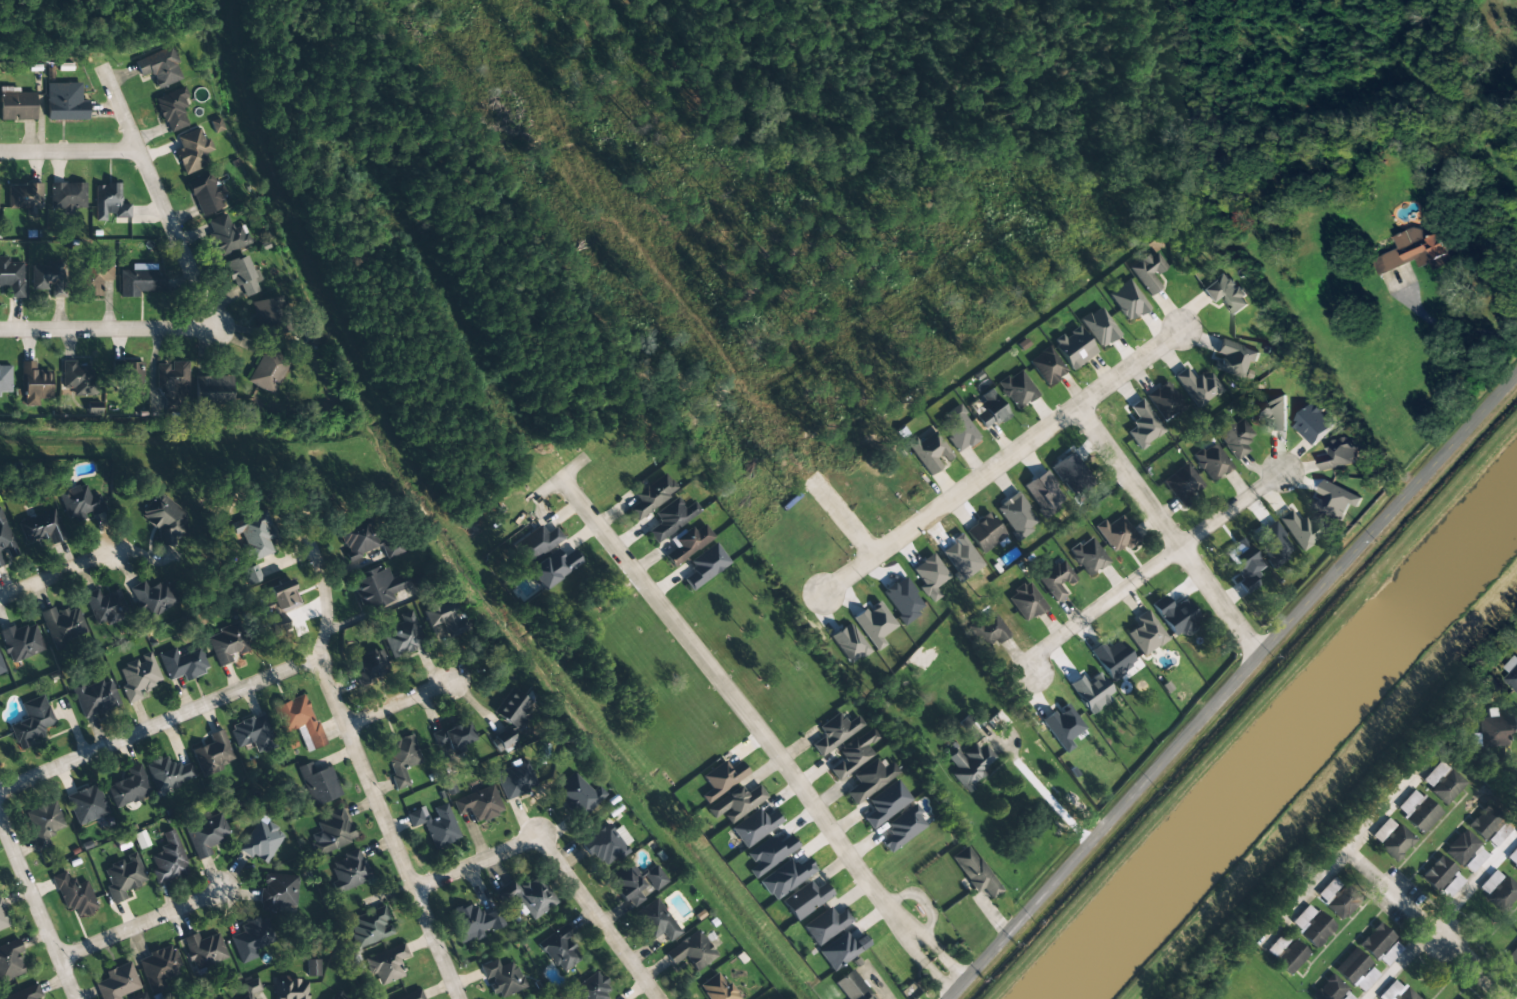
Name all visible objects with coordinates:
building: (160, 67)
building: (64, 102)
building: (17, 106)
building: (172, 109)
building: (216, 126)
road: (69, 151)
building: (191, 151)
building: (206, 195)
building: (24, 196)
building: (67, 197)
road: (159, 197)
building: (109, 203)
building: (225, 235)
building: (1416, 249)
building: (1148, 272)
building: (241, 275)
building: (11, 276)
building: (46, 276)
building: (90, 279)
building: (141, 280)
building: (1226, 294)
building: (1127, 300)
building: (267, 312)
building: (1099, 327)
road: (108, 328)
building: (1074, 348)
building: (1233, 358)
building: (1047, 366)
building: (267, 371)
building: (78, 379)
building: (127, 379)
building: (4, 380)
building: (33, 384)
building: (172, 384)
building: (1198, 387)
building: (1017, 389)
building: (212, 391)
building: (1164, 401)
building: (990, 410)
building: (1269, 411)
building: (1313, 423)
building: (1143, 425)
building: (959, 430)
building: (1233, 436)
building: (930, 453)
building: (1339, 453)
road: (1002, 460)
building: (1212, 462)
building: (1071, 474)
road: (1126, 477)
building: (1183, 484)
building: (1044, 494)
building: (651, 495)
building: (1336, 500)
building: (78, 502)
building: (1016, 516)
building: (165, 518)
road: (842, 518)
building: (670, 519)
building: (40, 527)
building: (1302, 530)
building: (984, 533)
building: (1115, 533)
building: (252, 535)
building: (365, 541)
building: (5, 543)
building: (537, 543)
building: (686, 544)
building: (1272, 544)
building: (1088, 555)
building: (1243, 564)
building: (705, 566)
building: (553, 568)
road: (1147, 569)
road: (55, 577)
building: (929, 577)
building: (1057, 580)
building: (378, 586)
building: (153, 598)
building: (280, 599)
building: (903, 600)
building: (1026, 602)
road: (1219, 603)
building: (104, 606)
building: (1175, 616)
building: (445, 617)
building: (874, 624)
building: (278, 625)
building: (63, 626)
road: (324, 627)
building: (986, 630)
building: (403, 634)
building: (1146, 634)
building: (21, 640)
building: (226, 643)
building: (849, 643)
building: (1112, 658)
building: (182, 663)
building: (368, 665)
building: (1, 668)
building: (137, 676)
building: (1511, 677)
road: (1234, 688)
building: (1091, 691)
building: (94, 696)
road: (401, 702)
building: (511, 708)
building: (298, 720)
building: (30, 722)
road: (160, 725)
building: (1062, 726)
road: (758, 730)
building: (1493, 730)
building: (834, 732)
building: (252, 733)
building: (452, 736)
building: (853, 753)
building: (213, 754)
building: (399, 758)
building: (970, 763)
building: (167, 772)
building: (722, 779)
building: (869, 779)
building: (514, 780)
building: (1442, 782)
building: (317, 783)
building: (1515, 785)
building: (128, 787)
building: (577, 796)
building: (479, 803)
building: (736, 803)
building: (85, 804)
building: (886, 804)
building: (1417, 811)
building: (43, 822)
building: (1485, 822)
building: (435, 824)
building: (755, 826)
road: (390, 828)
building: (903, 828)
building: (1382, 830)
building: (331, 832)
building: (206, 834)
building: (260, 842)
building: (1396, 843)
building: (603, 847)
building: (1460, 847)
road: (1344, 852)
building: (770, 854)
building: (1513, 855)
building: (167, 859)
road: (477, 862)
building: (1515, 867)
building: (347, 871)
building: (974, 871)
building: (1437, 873)
building: (122, 876)
building: (786, 877)
building: (1493, 877)
building: (654, 878)
building: (627, 884)
road: (1465, 889)
road: (30, 890)
building: (277, 891)
road: (1392, 893)
building: (73, 895)
building: (528, 895)
building: (1502, 895)
building: (1338, 898)
building: (806, 899)
road: (599, 917)
building: (2, 920)
building: (655, 921)
building: (473, 922)
building: (826, 925)
road: (141, 926)
building: (369, 926)
building: (1315, 929)
building: (251, 939)
building: (1379, 944)
building: (559, 949)
building: (204, 950)
building: (841, 950)
building: (691, 951)
building: (1289, 956)
building: (1513, 956)
building: (9, 960)
road: (1400, 962)
building: (386, 964)
building: (1351, 966)
road: (1473, 966)
building: (160, 967)
building: (313, 968)
building: (501, 978)
building: (1365, 979)
road: (67, 980)
building: (118, 983)
building: (852, 986)
building: (590, 987)
building: (290, 988)
building: (249, 989)
building: (718, 989)
building: (1328, 989)
building: (1396, 991)
building: (24, 993)
building: (411, 995)
building: (338, 996)
building: (221, 998)
building: (1461, 998)

